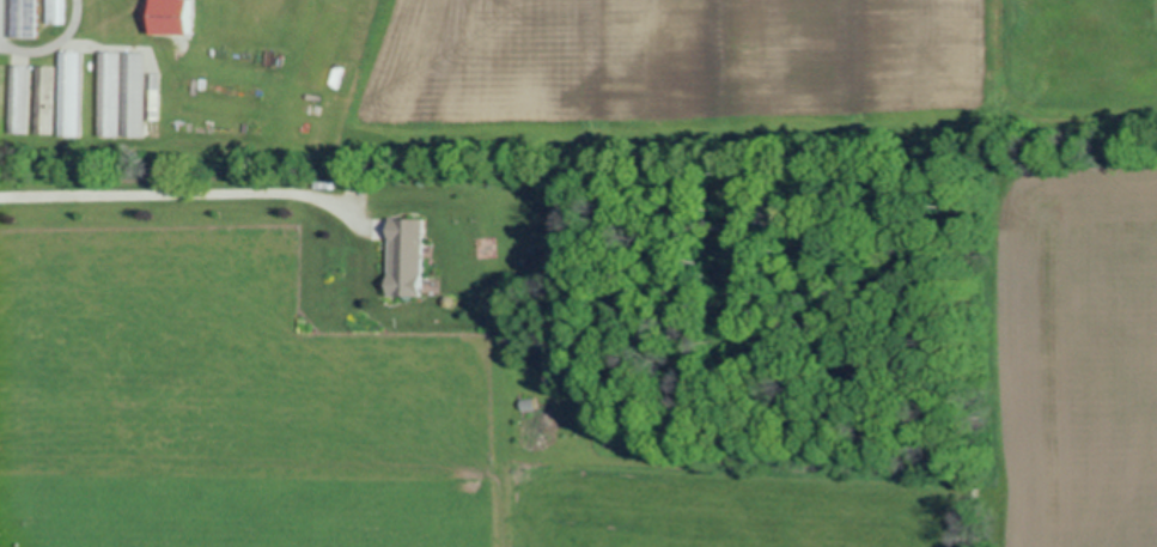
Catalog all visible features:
building: (172, 17)
building: (26, 18)
crop: (574, 81)
building: (69, 95)
building: (109, 95)
building: (133, 95)
building: (18, 98)
building: (43, 99)
building: (407, 255)

